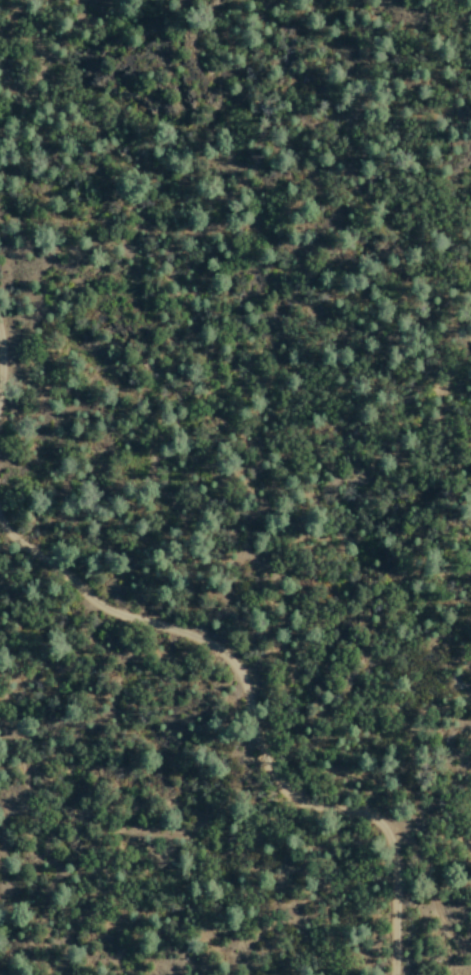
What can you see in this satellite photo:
road: (238, 731)

